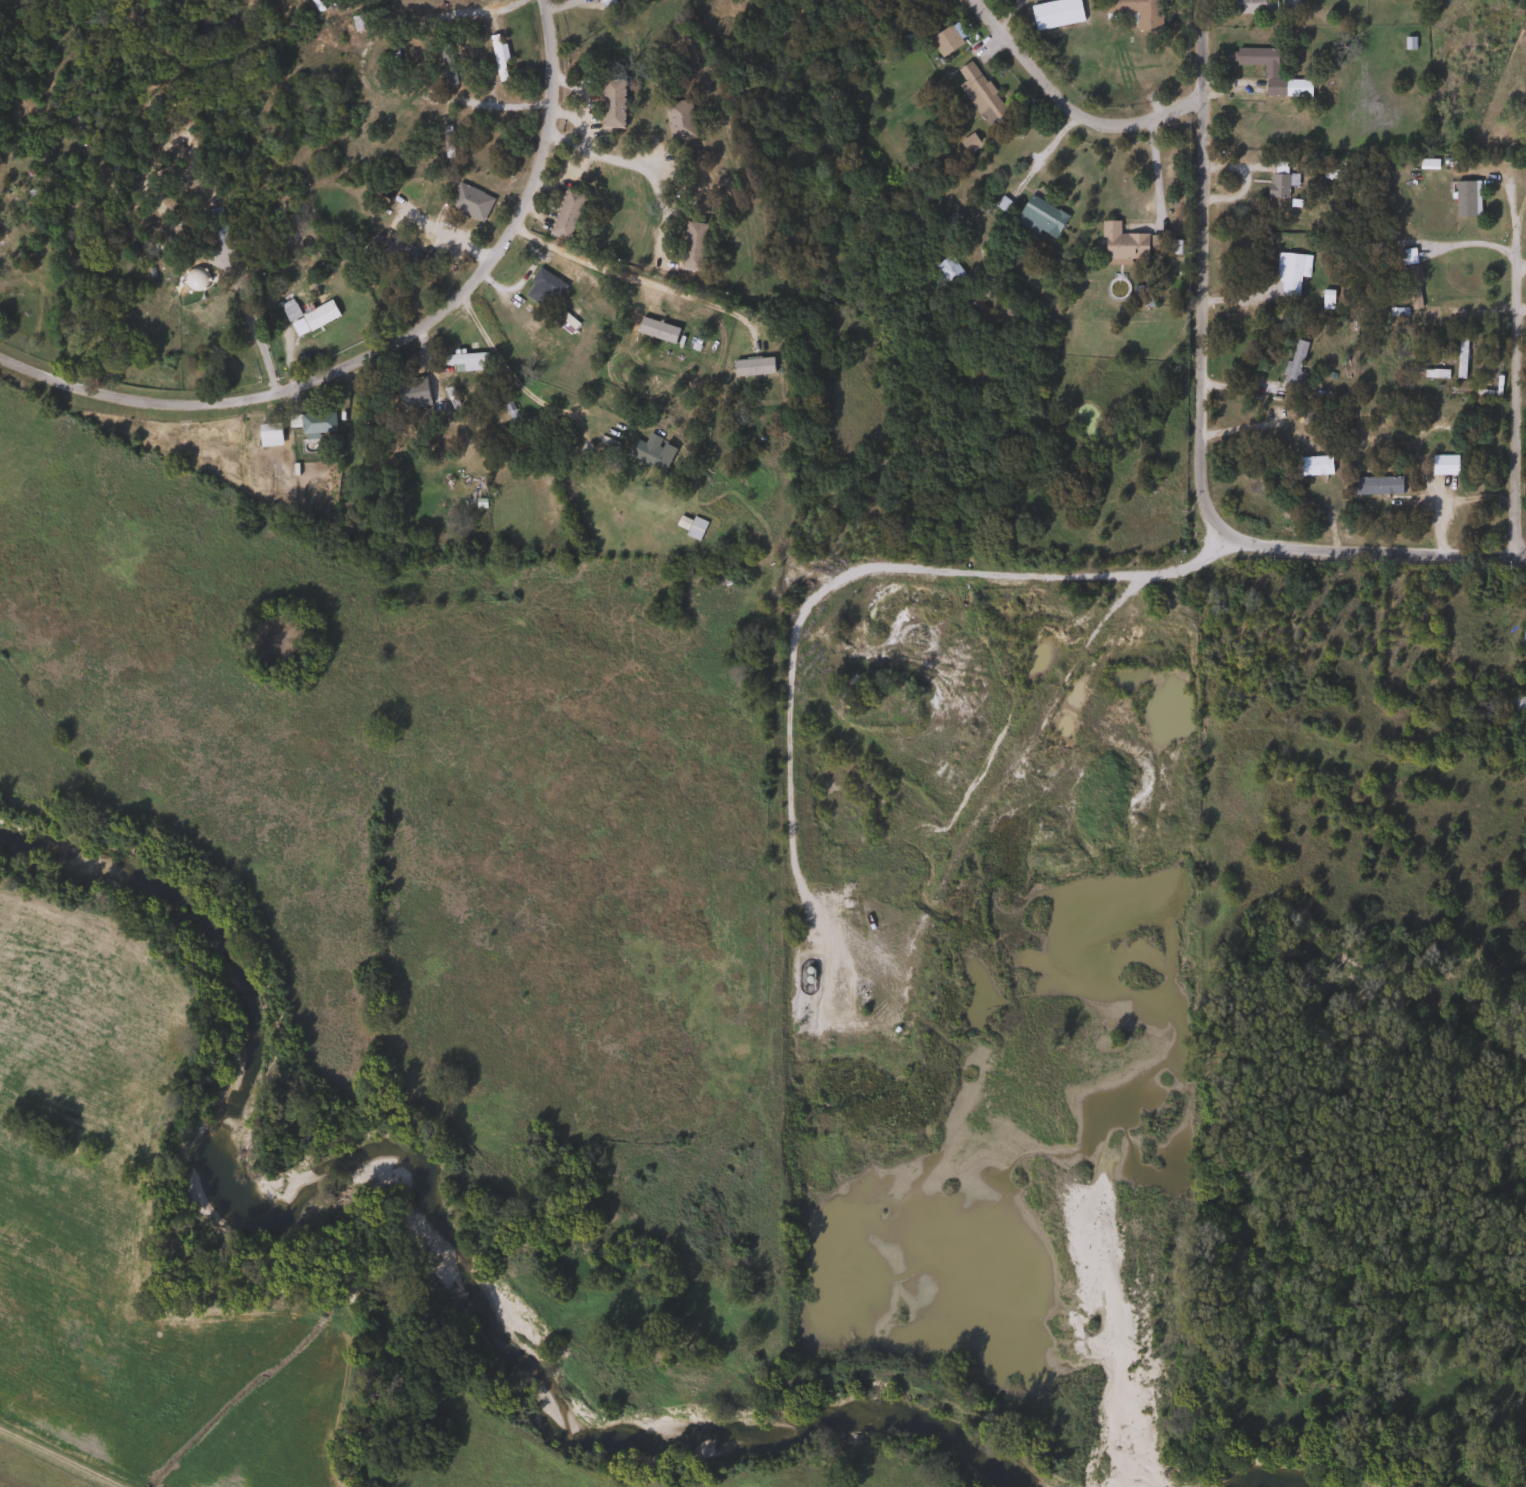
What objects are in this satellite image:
building: (602, 3)
building: (1248, 6)
building: (1136, 12)
building: (1053, 14)
building: (360, 22)
building: (1525, 32)
building: (942, 40)
building: (496, 59)
building: (444, 63)
building: (392, 64)
building: (1269, 73)
road: (361, 78)
building: (977, 93)
building: (850, 95)
building: (611, 103)
road: (1064, 110)
building: (677, 120)
building: (445, 142)
building: (967, 143)
road: (587, 152)
road: (1153, 167)
building: (1276, 185)
building: (1459, 194)
building: (467, 202)
building: (564, 214)
building: (1038, 217)
building: (212, 220)
building: (948, 228)
road: (443, 233)
building: (1119, 242)
building: (690, 246)
building: (1405, 256)
building: (555, 266)
building: (1293, 266)
building: (946, 270)
road: (1196, 272)
road: (639, 281)
building: (1404, 287)
building: (1362, 305)
building: (306, 316)
road: (252, 330)
road: (388, 344)
building: (1459, 355)
building: (462, 357)
building: (1292, 361)
road: (1512, 364)
building: (1432, 373)
road: (512, 380)
building: (506, 408)
building: (314, 423)
road: (1241, 431)
building: (266, 434)
building: (649, 452)
building: (1302, 457)
building: (1441, 465)
building: (1371, 485)
building: (689, 526)
road: (1374, 548)
road: (881, 572)
building: (1521, 643)
building: (1514, 703)
river: (419, 1176)
airport runway: (65, 1455)
river: (1278, 1479)

